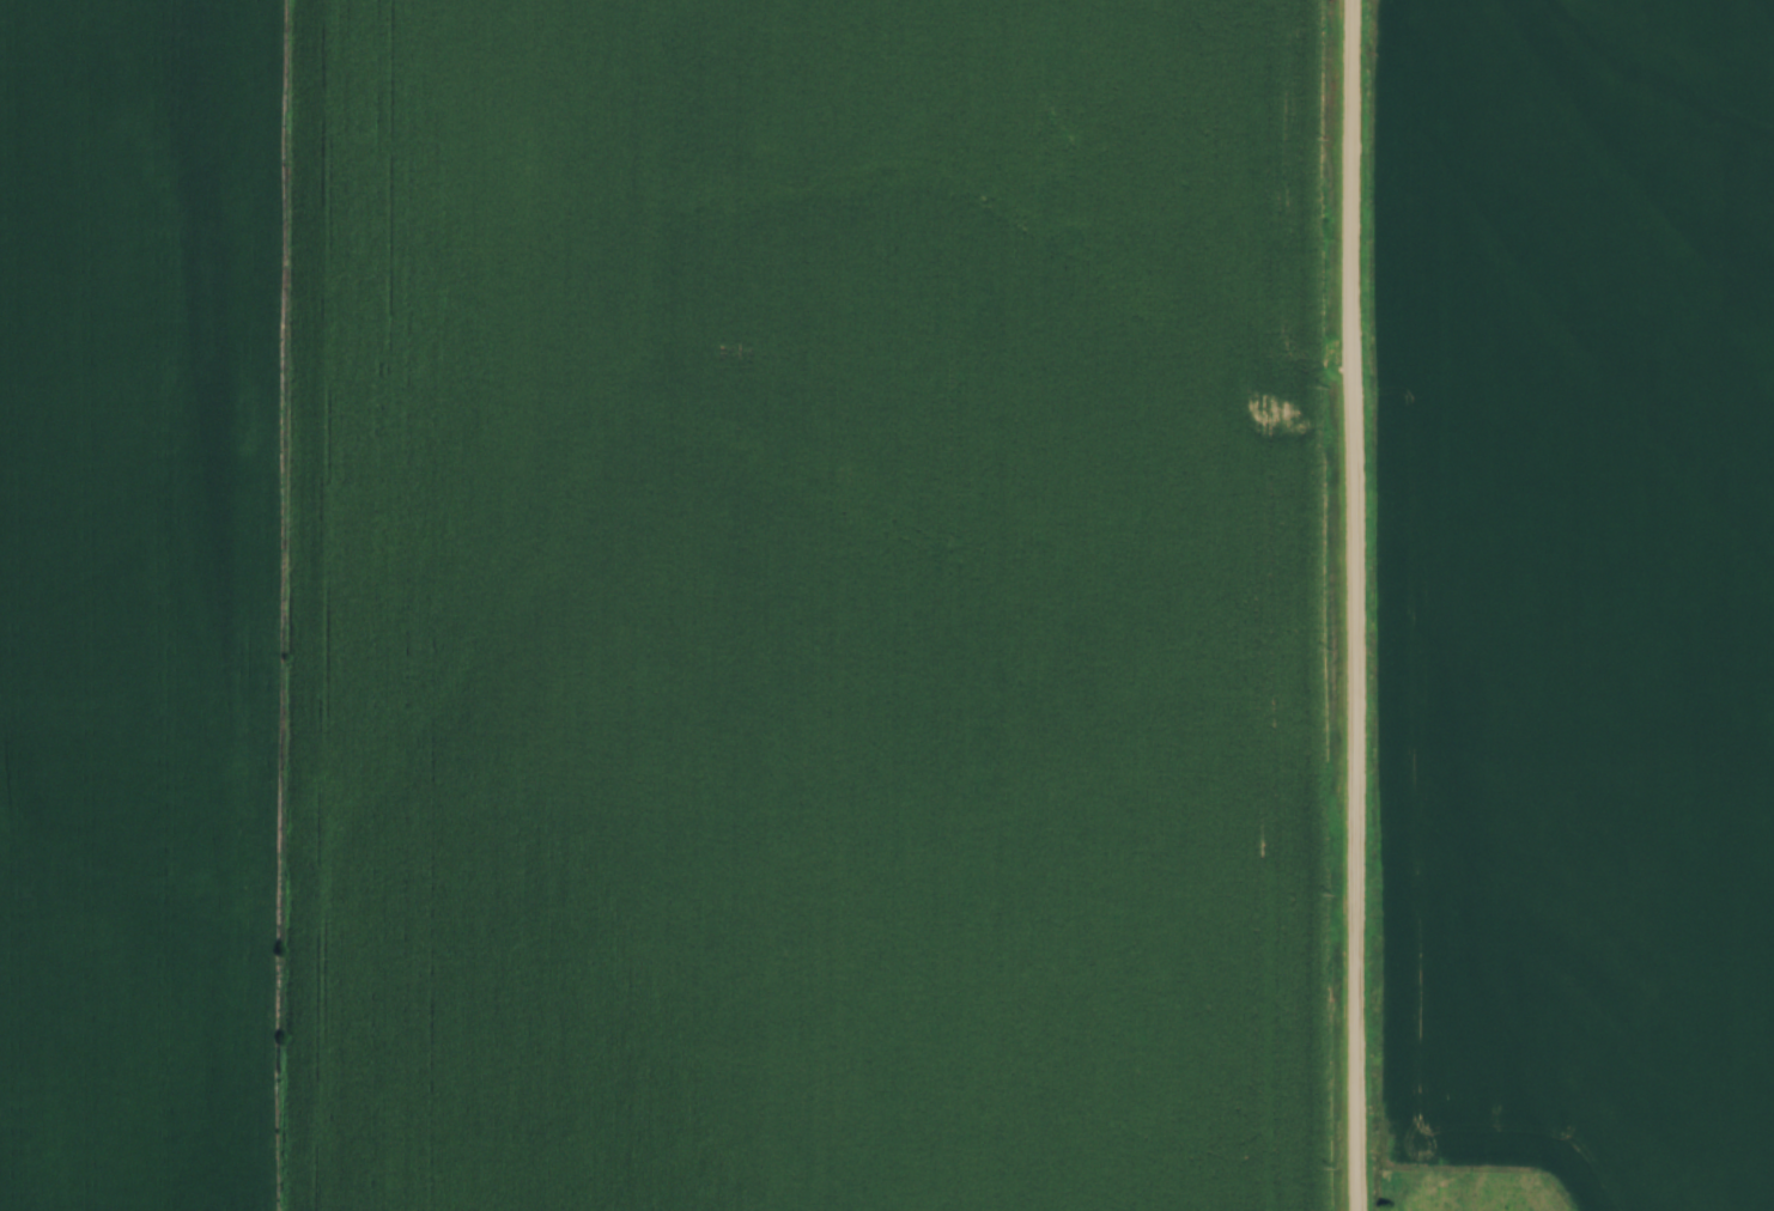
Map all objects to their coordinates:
road: (1350, 605)

